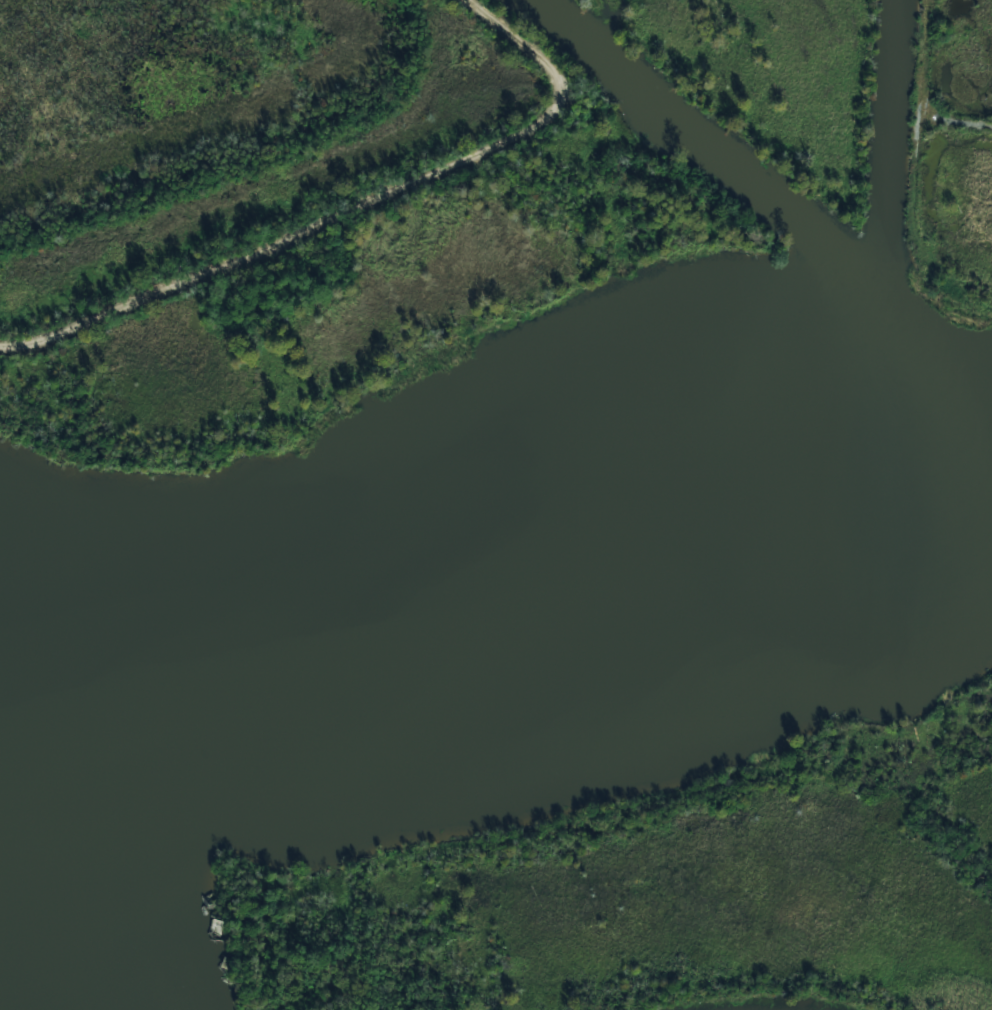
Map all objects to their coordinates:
road: (956, 120)
road: (919, 164)
road: (349, 205)
river: (481, 601)
river: (48, 914)

